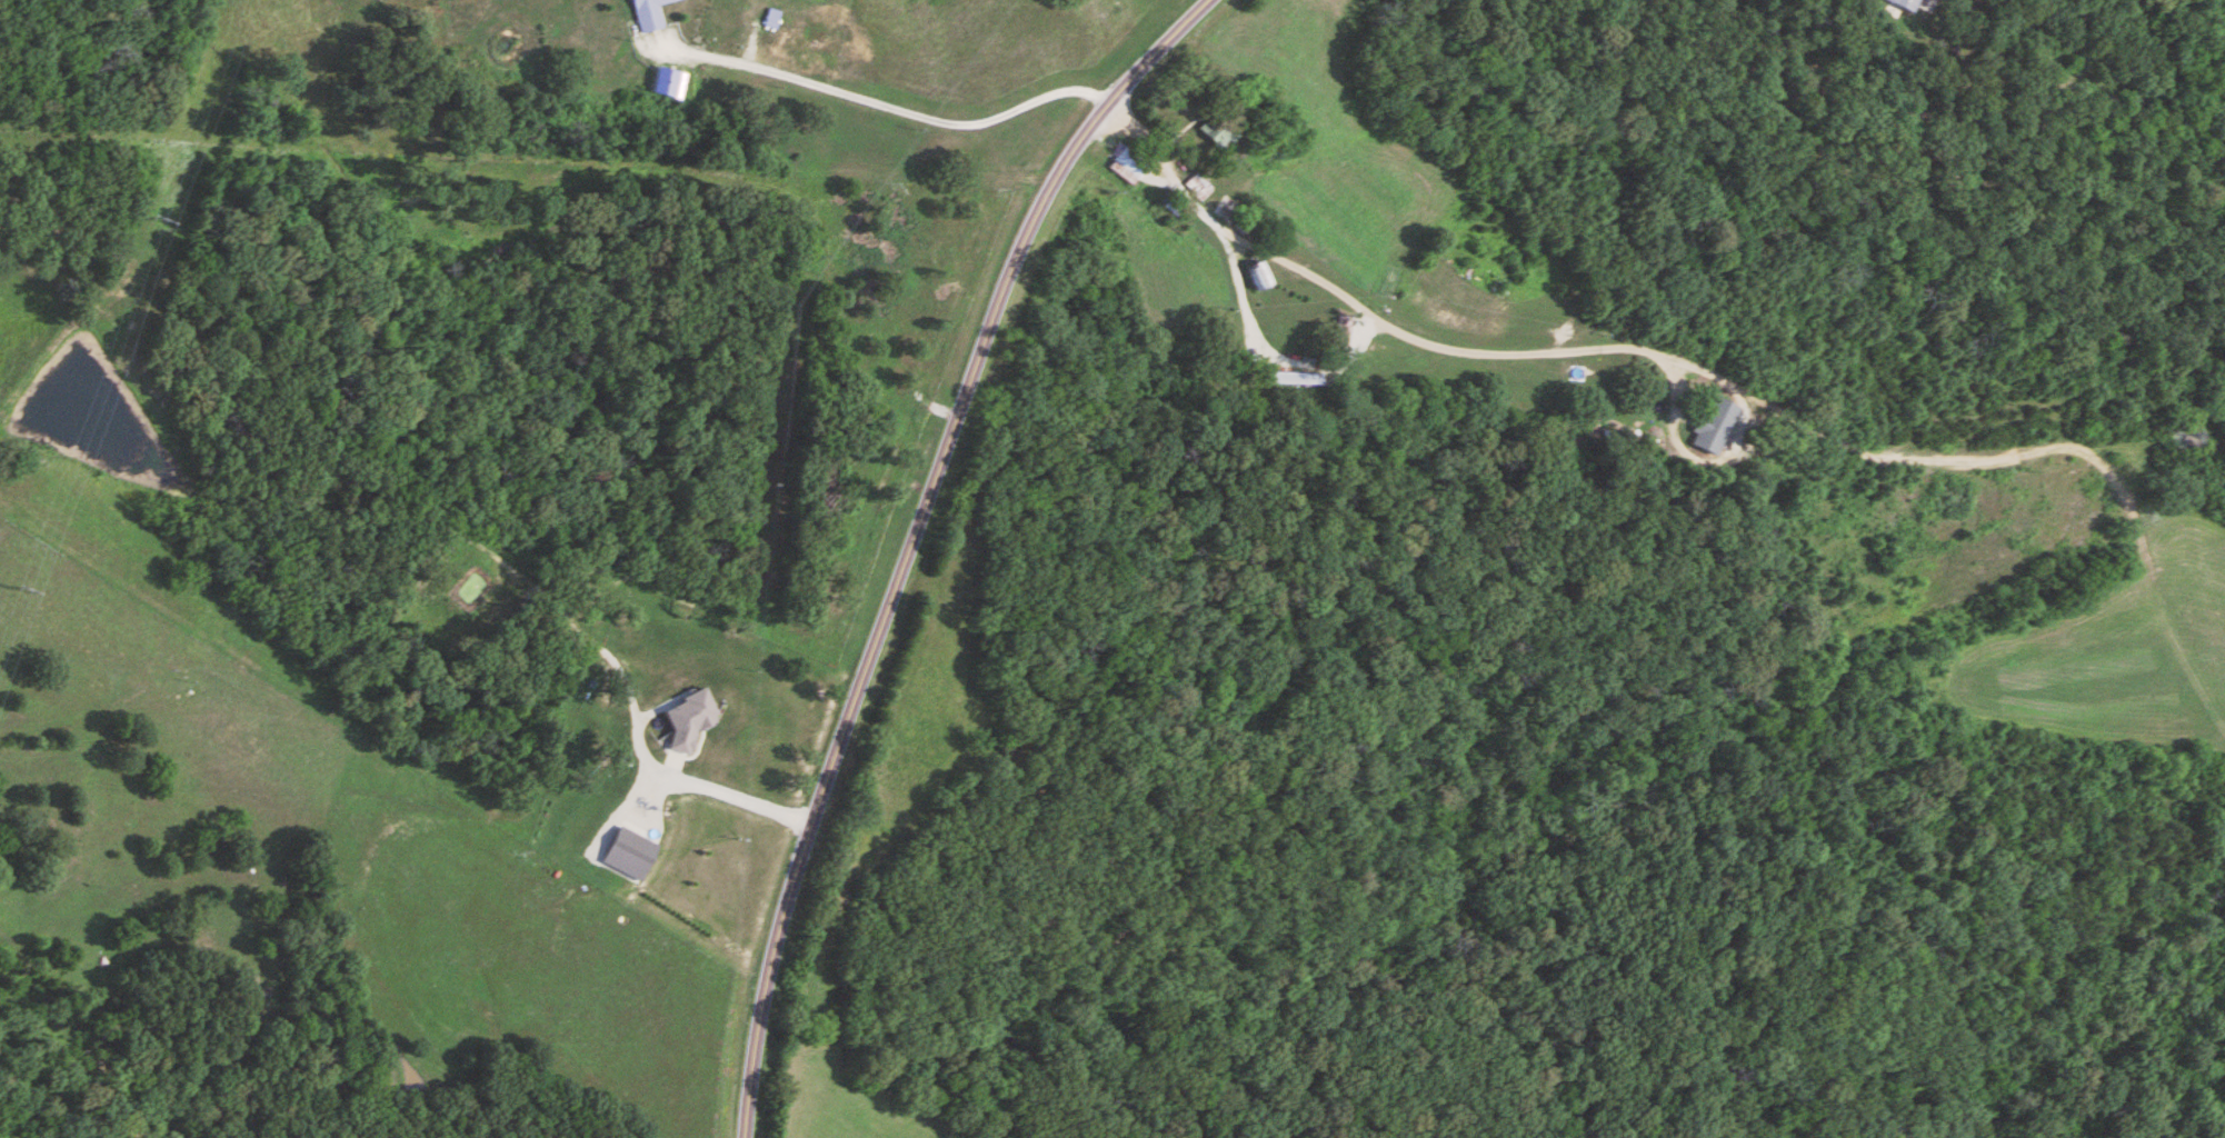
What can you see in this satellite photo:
building: (1903, 4)
building: (648, 13)
road: (885, 106)
building: (1219, 132)
building: (1129, 166)
building: (1199, 187)
power tower: (159, 227)
building: (1259, 278)
building: (1343, 331)
road: (1487, 352)
road: (1264, 353)
building: (1280, 378)
building: (1710, 427)
road: (909, 541)
power tower: (22, 589)
road: (729, 796)

